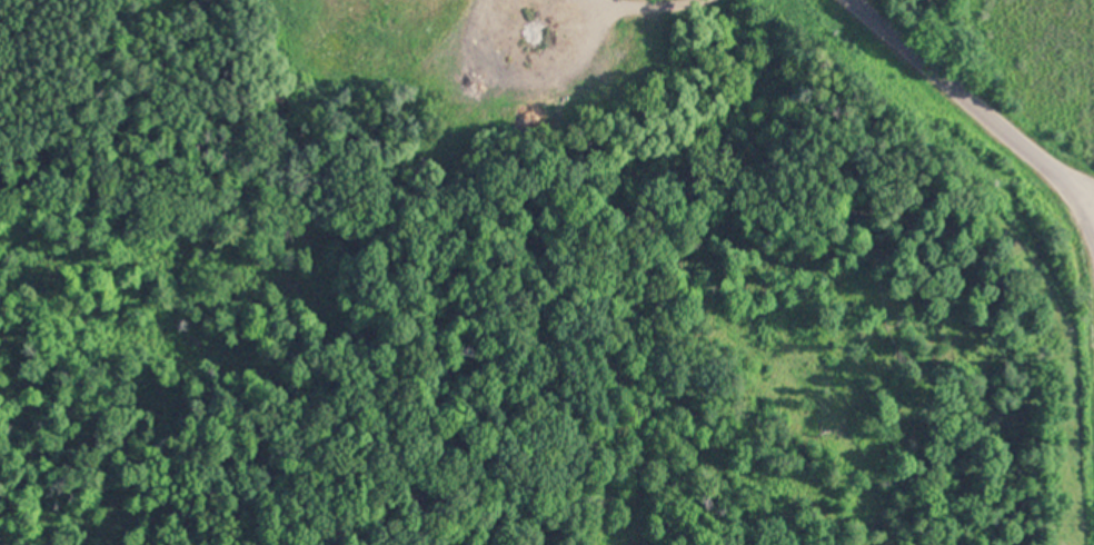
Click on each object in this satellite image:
road: (996, 109)
road: (1091, 231)
road: (1091, 244)

